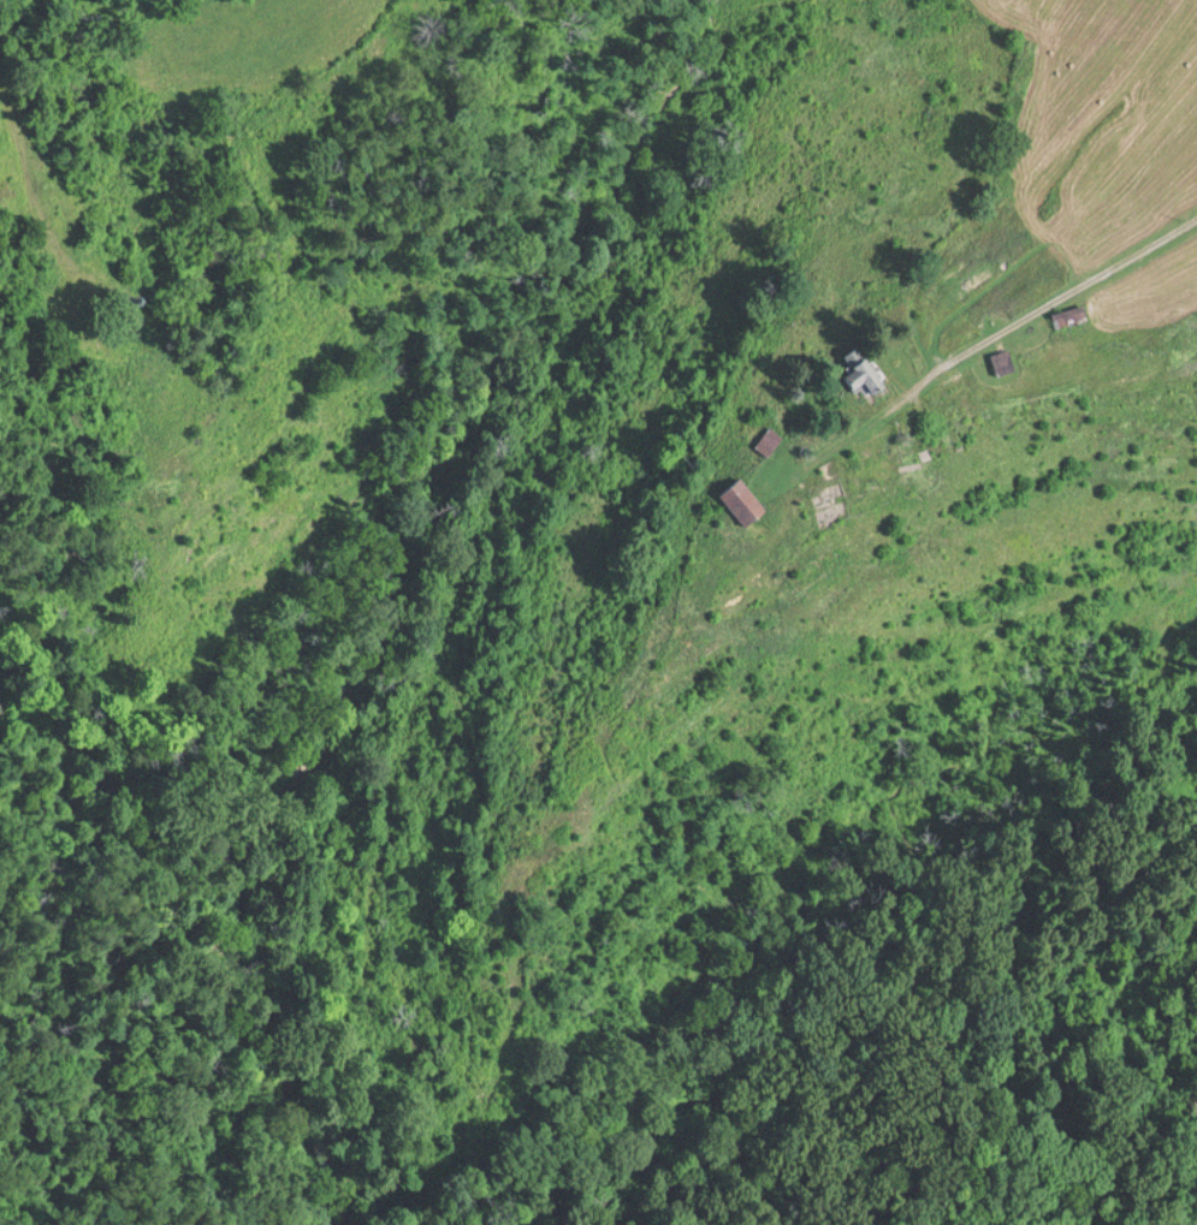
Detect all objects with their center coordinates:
building: (1074, 314)
building: (144, 337)
building: (1007, 359)
building: (867, 373)
building: (771, 439)
building: (747, 499)
building: (769, 584)
building: (715, 632)
building: (672, 672)

